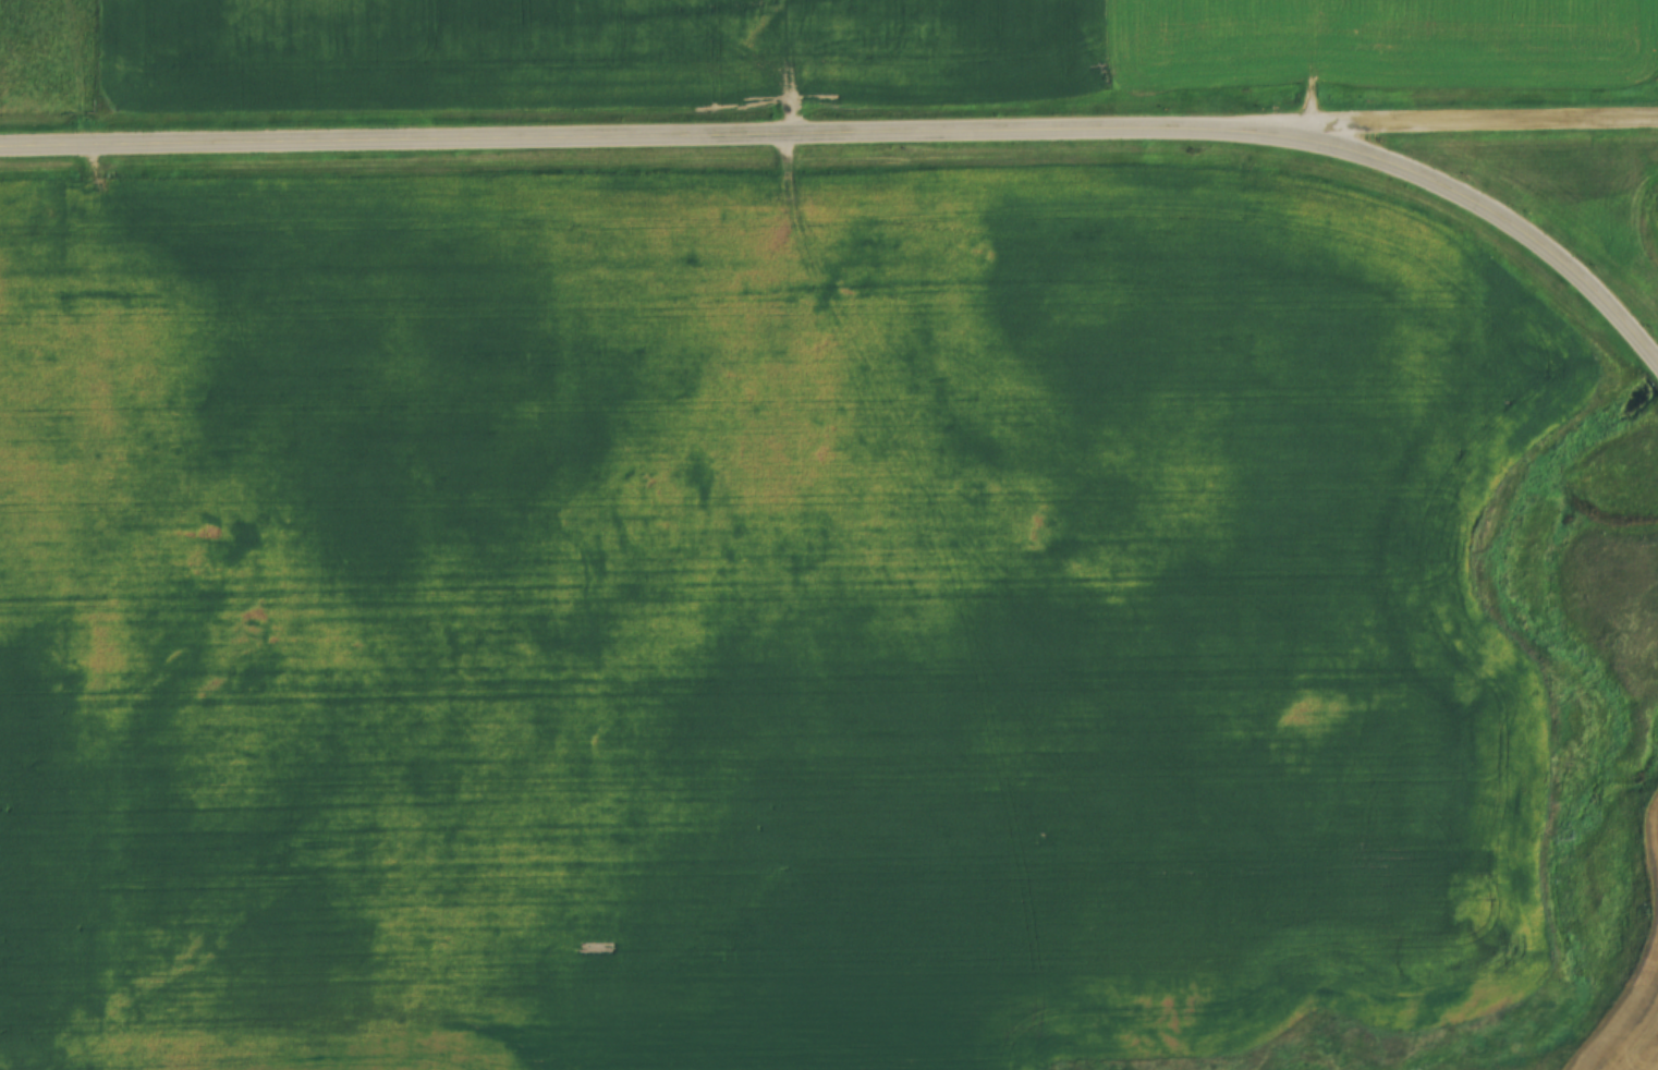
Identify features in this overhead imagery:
road: (1466, 130)
road: (637, 141)
road: (1488, 211)

